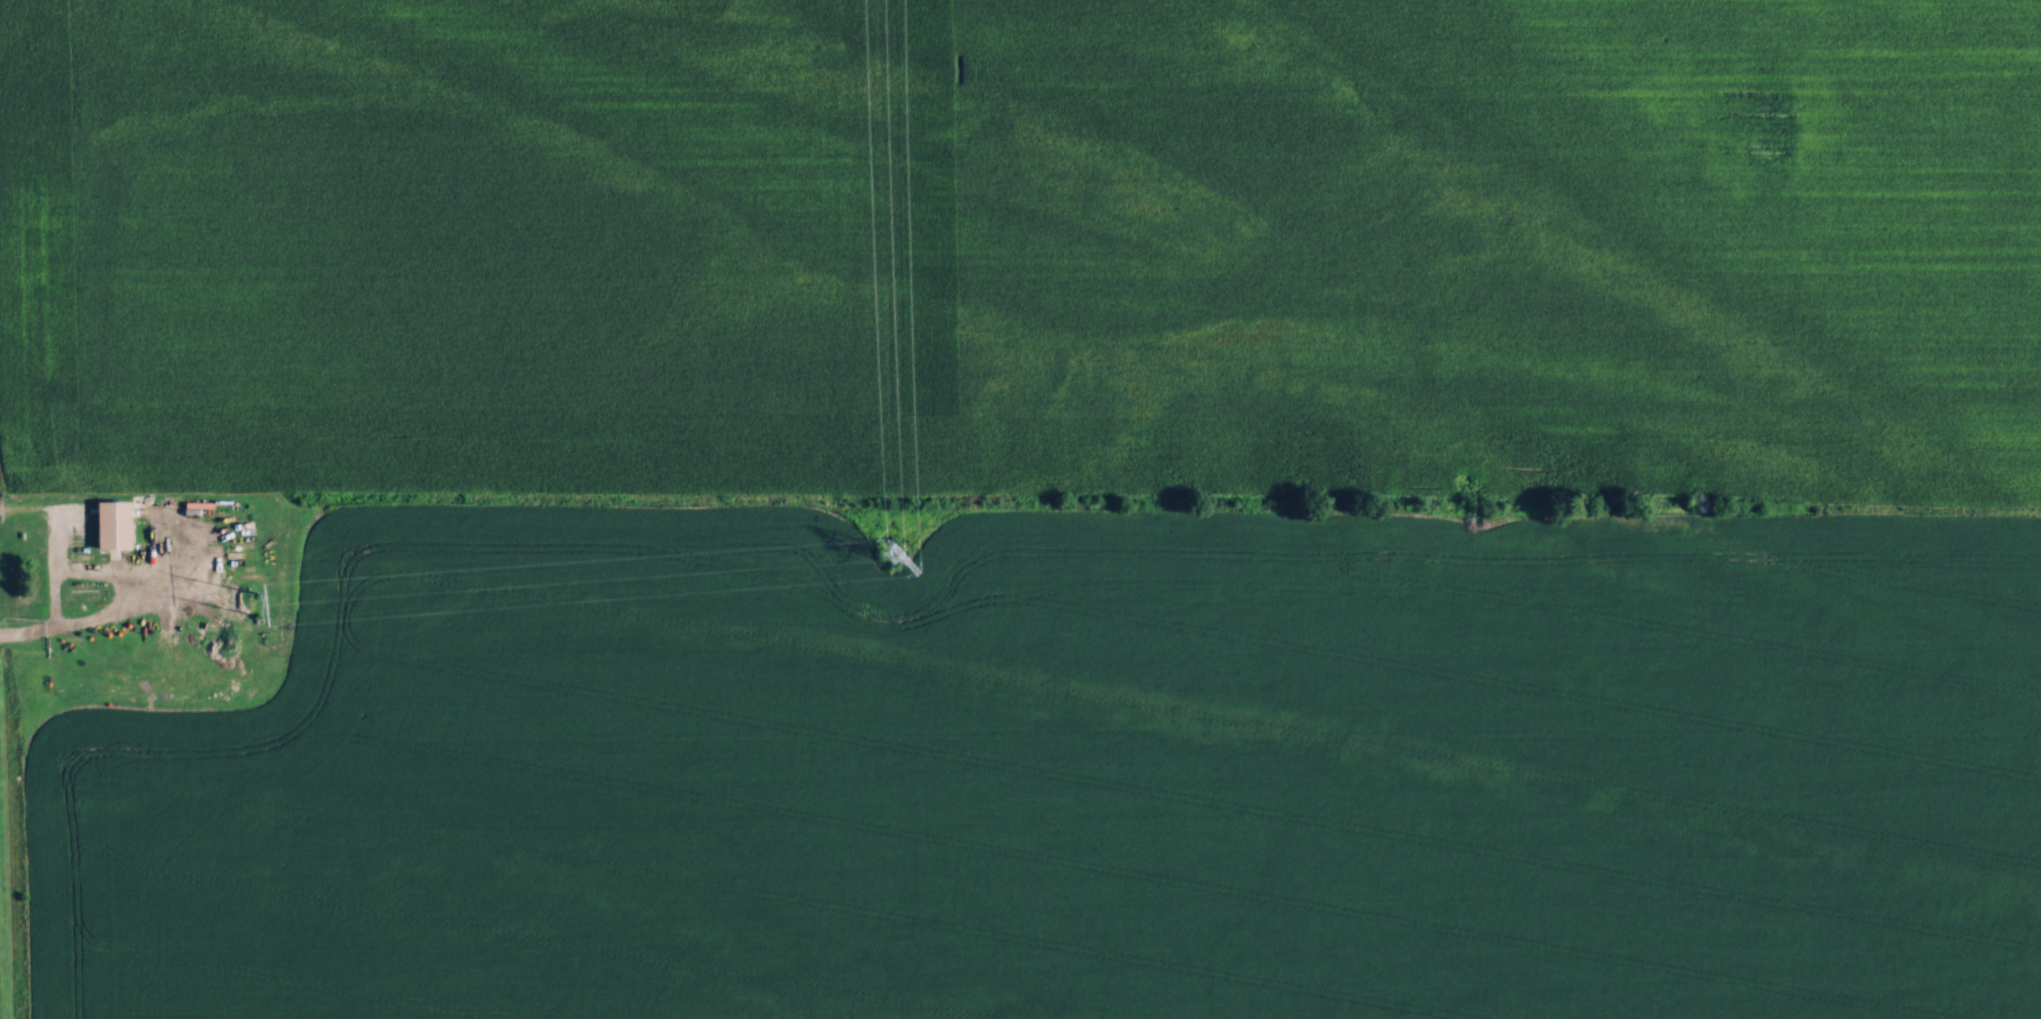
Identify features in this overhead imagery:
building: (111, 524)
power tower: (892, 550)
road: (49, 567)
power tower: (259, 603)

